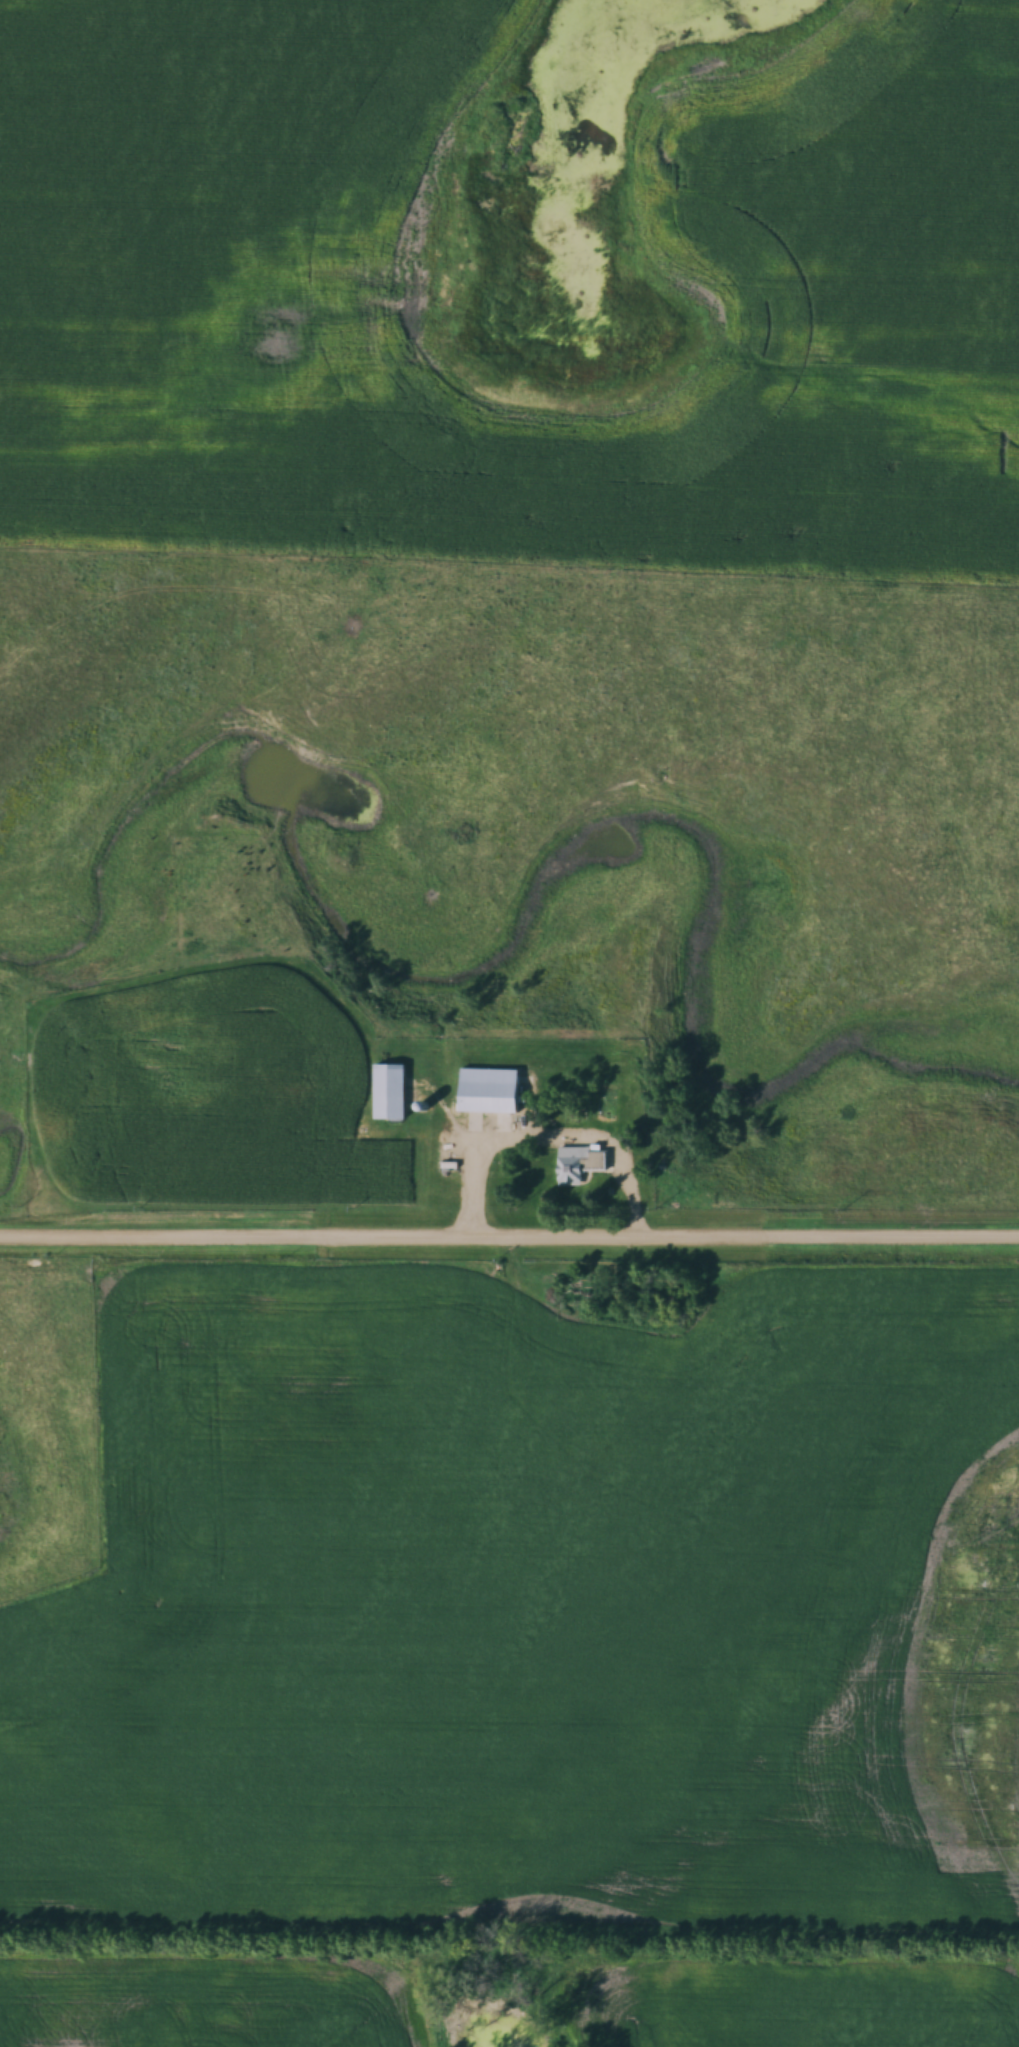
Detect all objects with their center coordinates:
building: (489, 1092)
building: (392, 1093)
building: (580, 1162)
road: (509, 1238)

